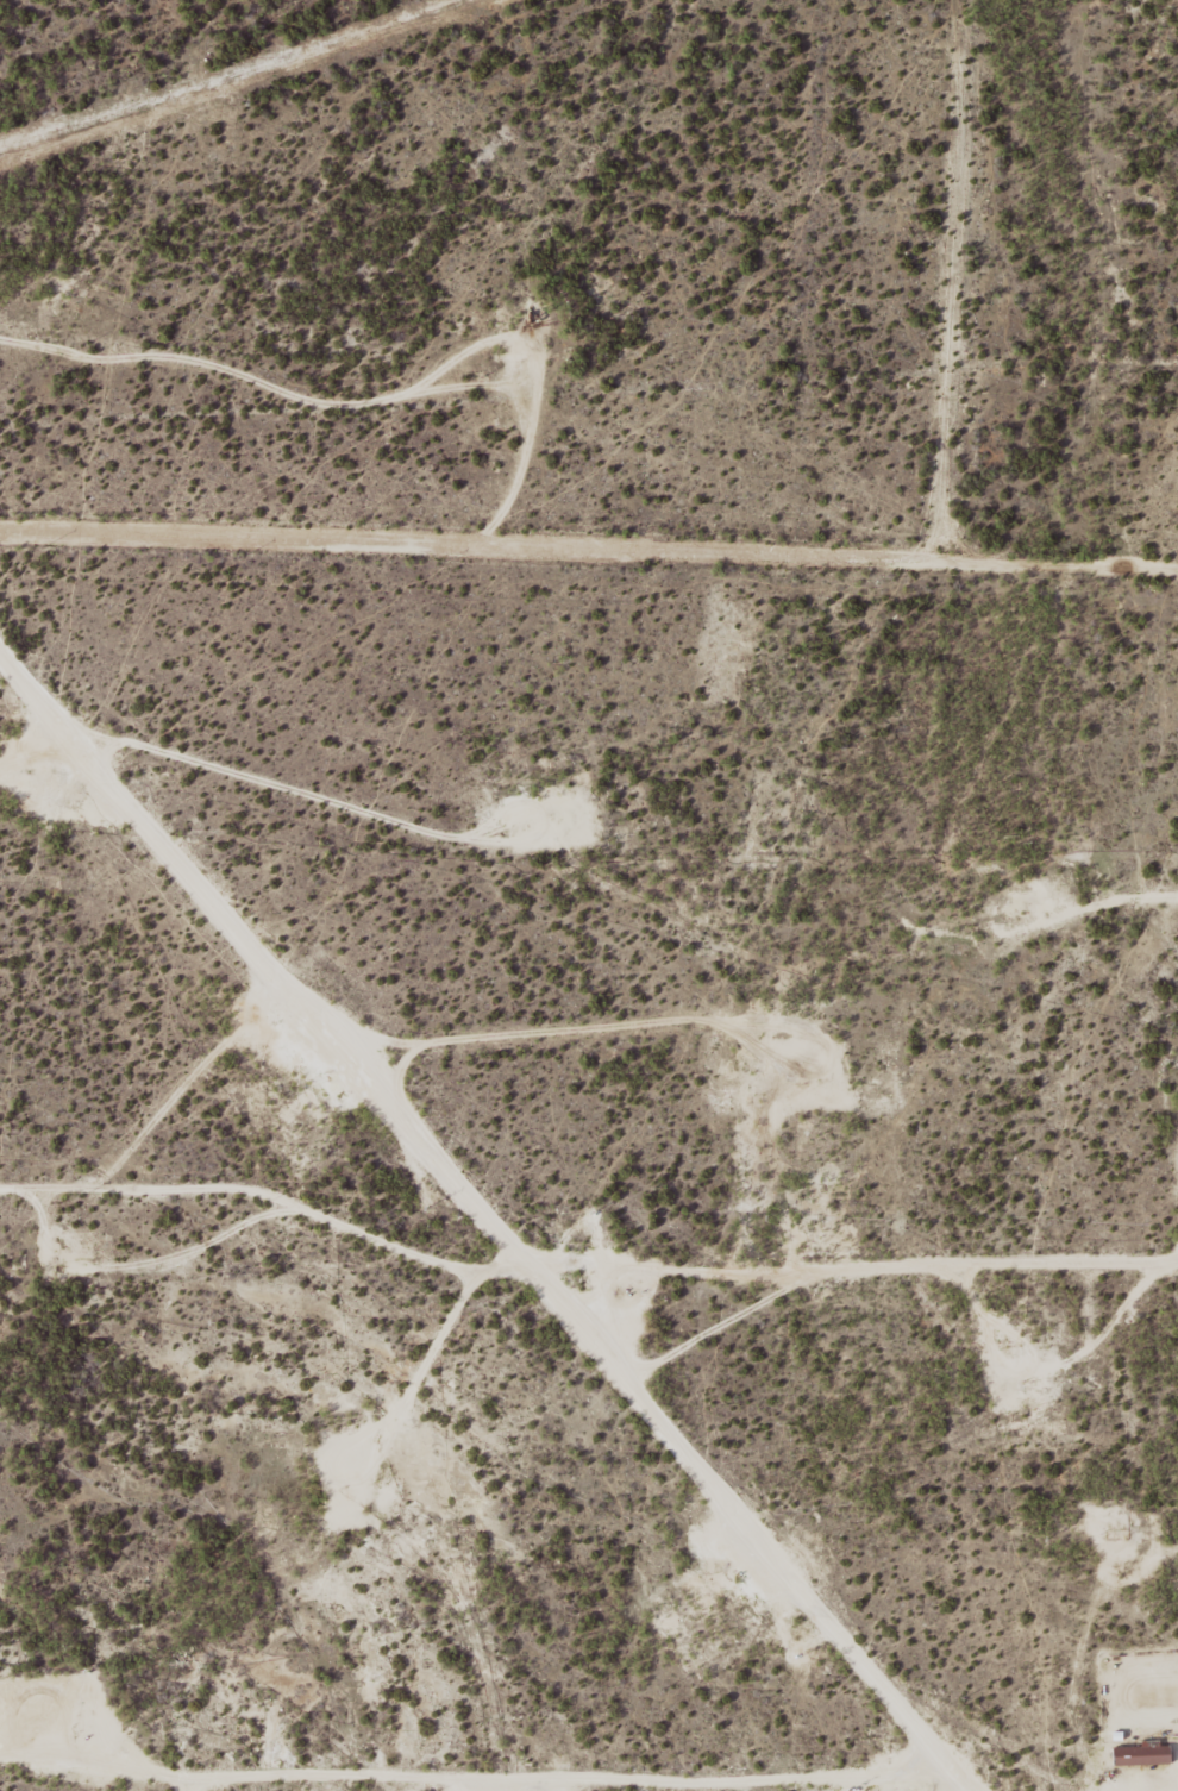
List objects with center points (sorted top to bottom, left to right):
road: (960, 288)
road: (588, 556)
road: (475, 1203)
road: (863, 1250)
building: (1142, 1752)
road: (951, 1773)
road: (915, 1781)

